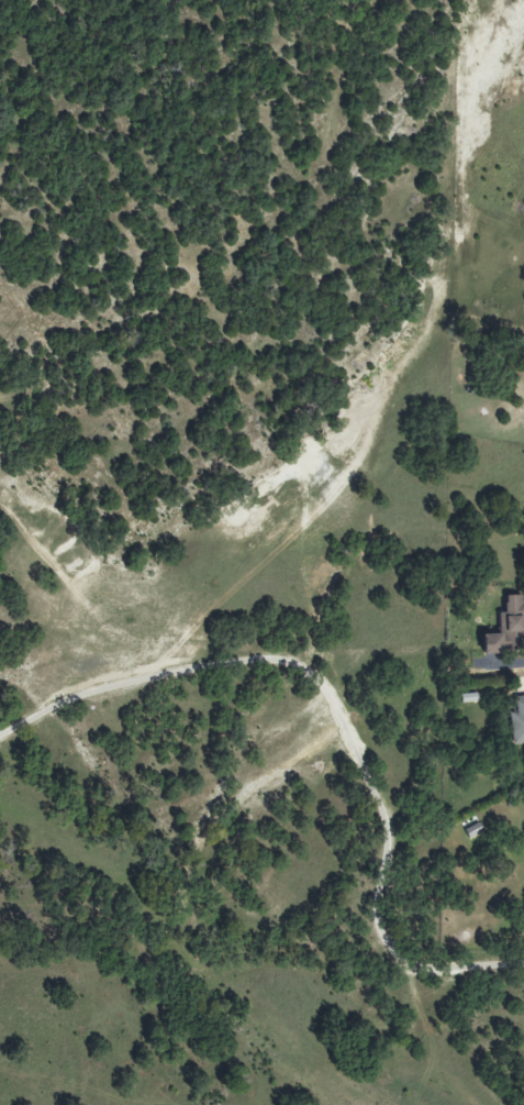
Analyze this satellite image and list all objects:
road: (339, 725)

